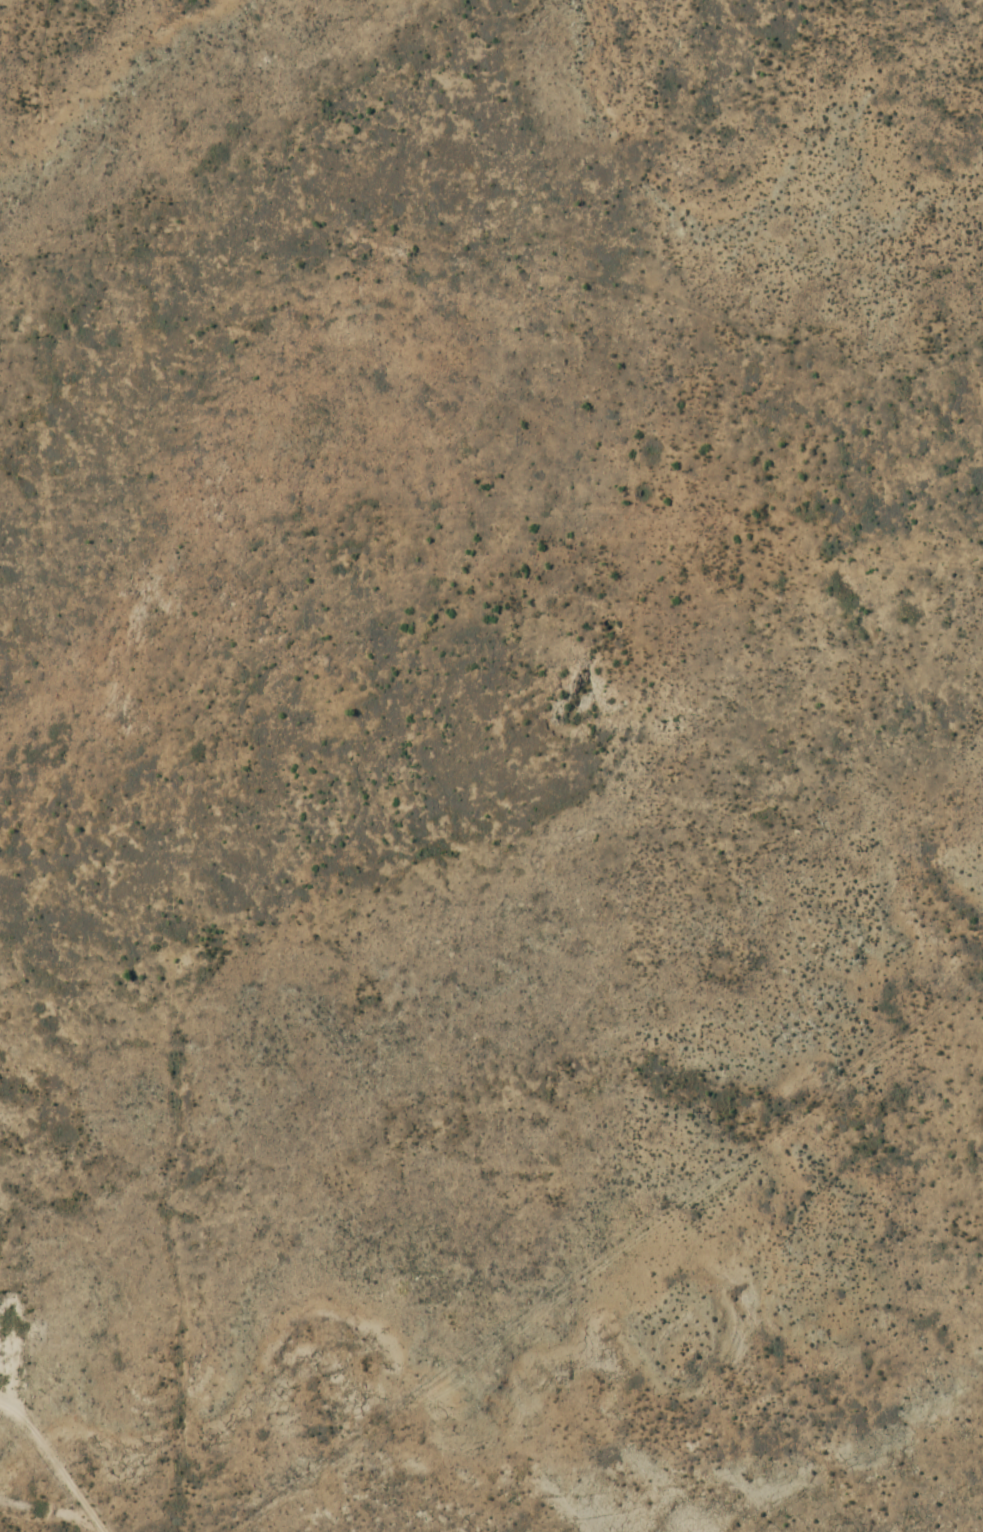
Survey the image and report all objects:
road: (611, 1256)
road: (52, 1459)

